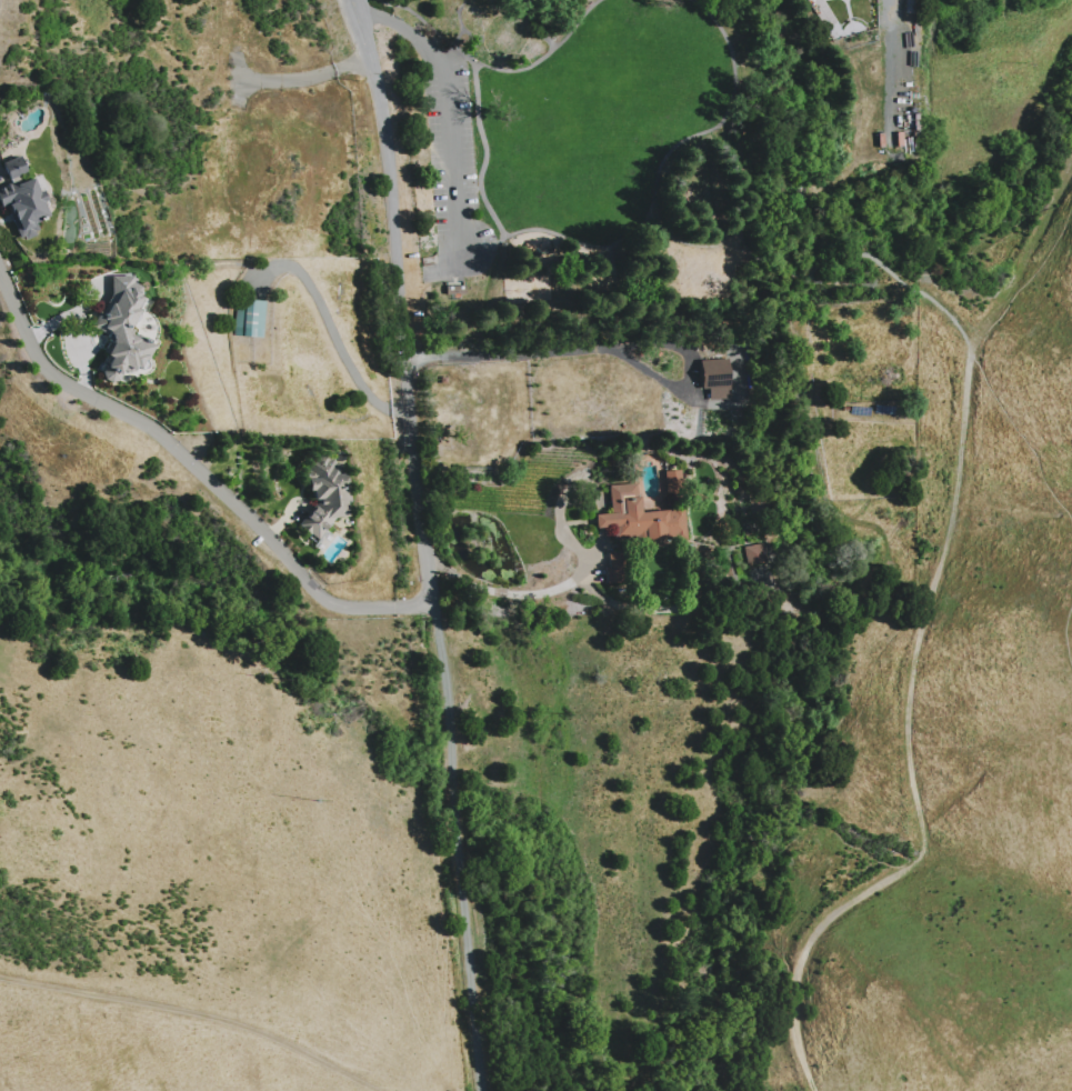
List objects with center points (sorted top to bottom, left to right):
road: (354, 6)
road: (403, 26)
road: (454, 59)
road: (302, 78)
parking lot: (442, 156)
building: (12, 167)
road: (452, 179)
park: (629, 180)
road: (748, 184)
building: (23, 204)
road: (543, 230)
road: (482, 243)
road: (692, 243)
road: (1023, 254)
road: (839, 282)
road: (400, 304)
building: (248, 317)
road: (329, 326)
building: (120, 329)
road: (609, 349)
building: (713, 378)
road: (1022, 434)
road: (196, 469)
building: (670, 481)
building: (322, 494)
building: (637, 517)
building: (753, 553)
road: (591, 555)
building: (613, 567)
road: (1064, 631)
road: (912, 719)
road: (455, 845)
road: (192, 1014)

